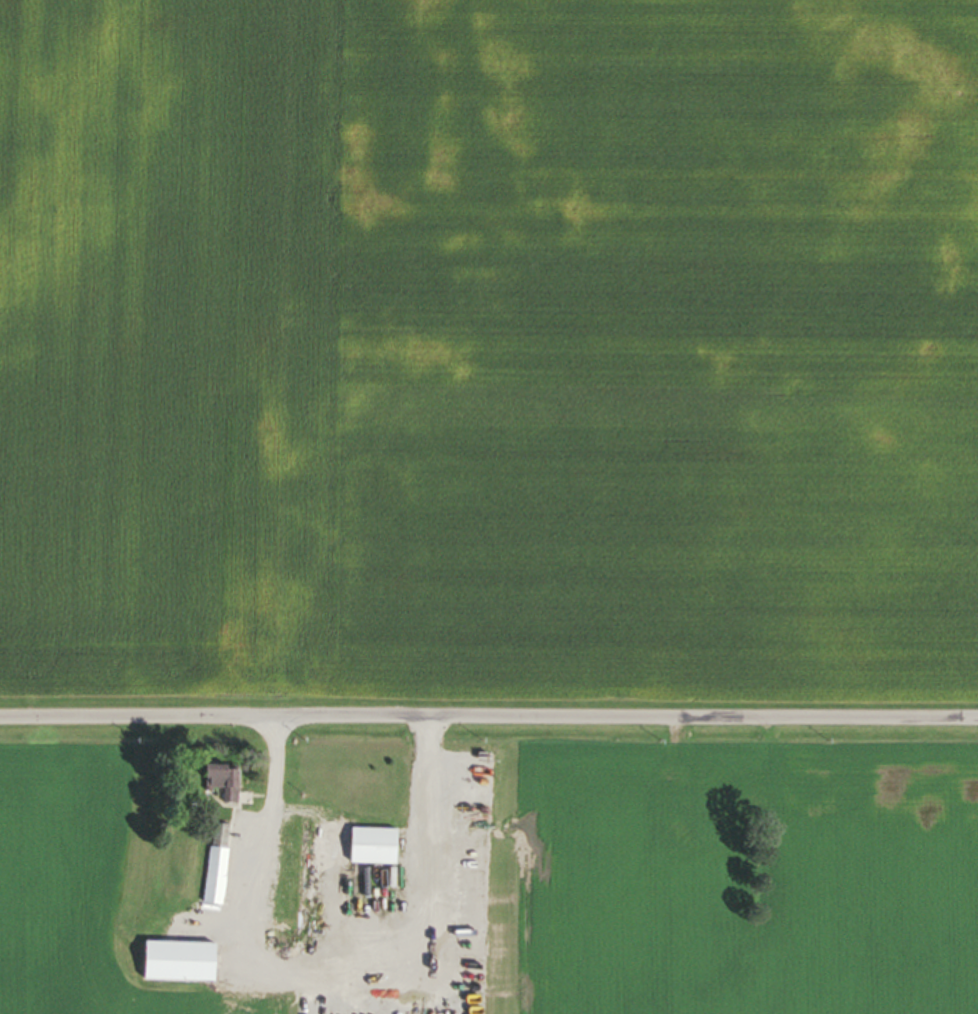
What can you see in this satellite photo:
road: (488, 717)
building: (218, 782)
building: (670, 824)
building: (217, 830)
building: (370, 848)
building: (212, 876)
building: (173, 963)
road: (316, 968)

